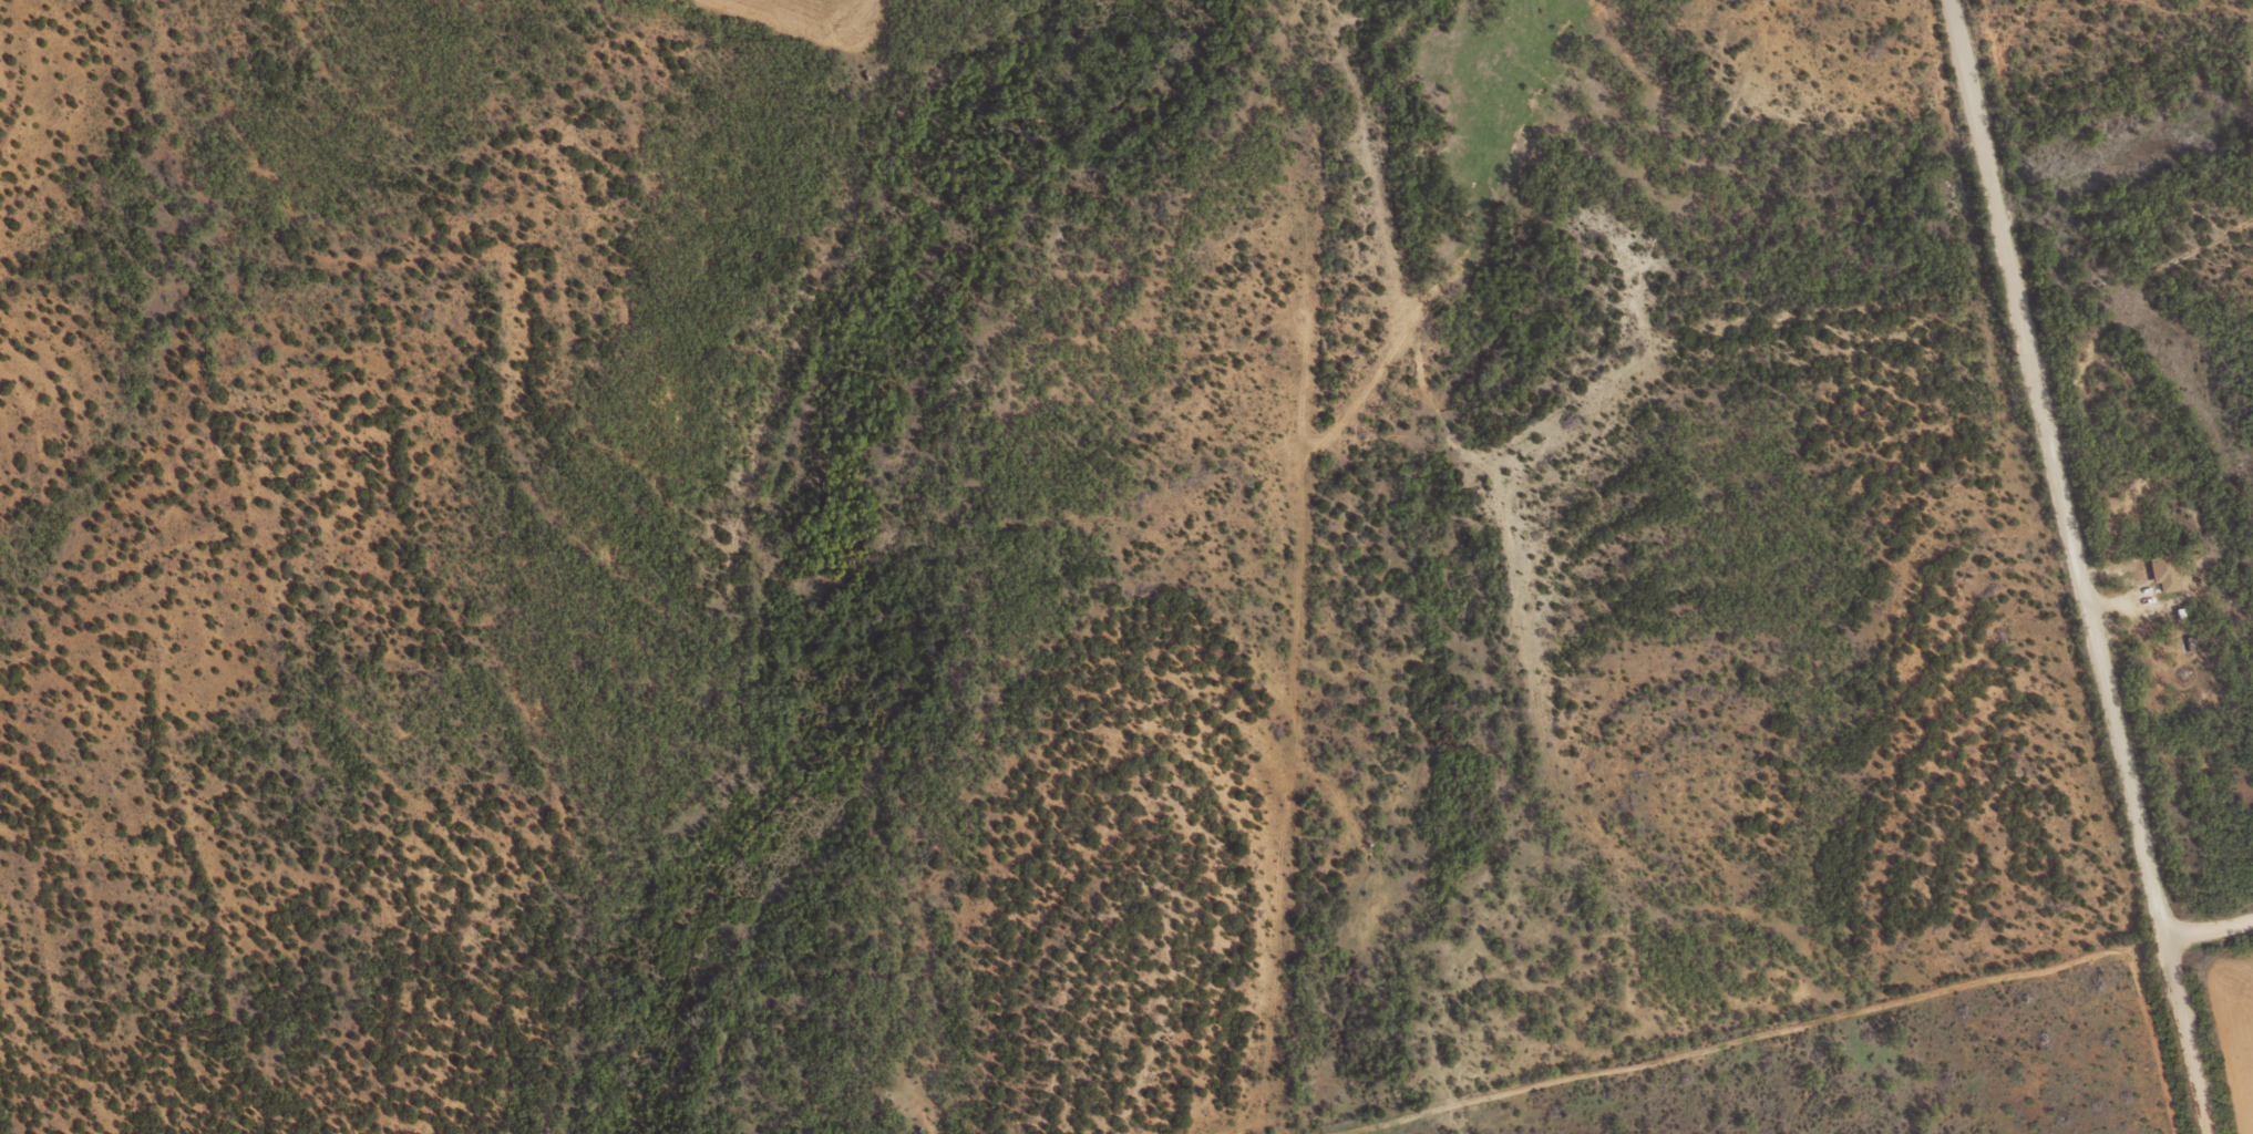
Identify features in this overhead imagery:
road: (2085, 564)
building: (2163, 573)
road: (2209, 925)

